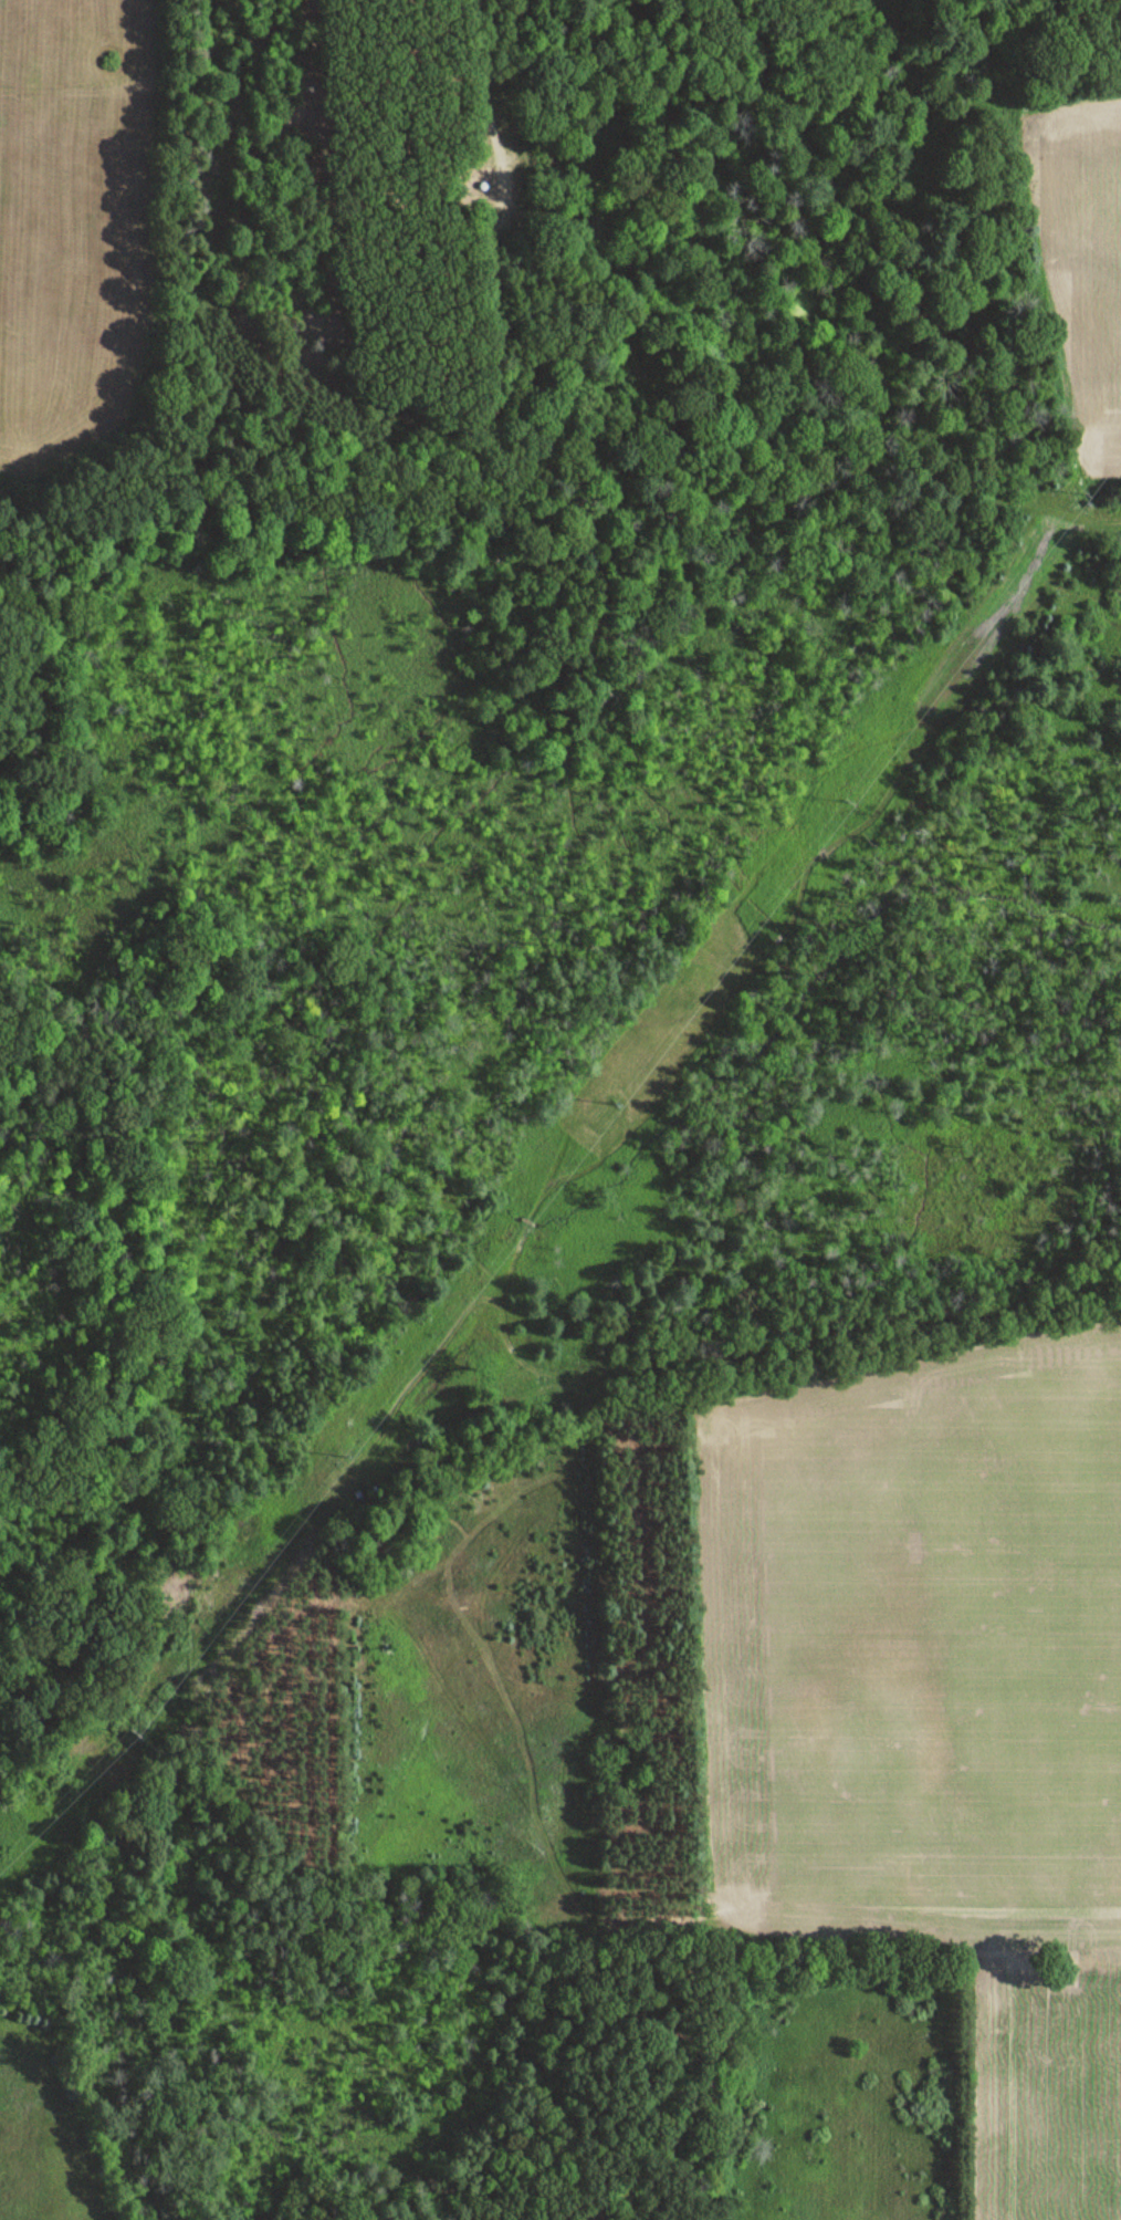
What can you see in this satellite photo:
road: (114, 125)
power tower: (1087, 486)
power tower: (847, 801)
power tower: (615, 1109)
power tower: (373, 1422)
power tower: (130, 1737)

